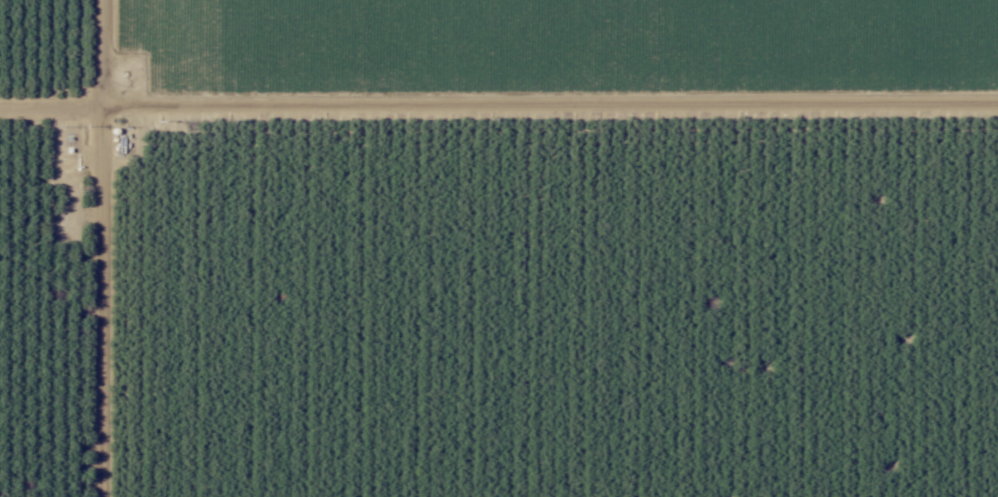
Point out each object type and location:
crop: (58, 67)
crop: (557, 67)
road: (498, 109)
road: (91, 248)

